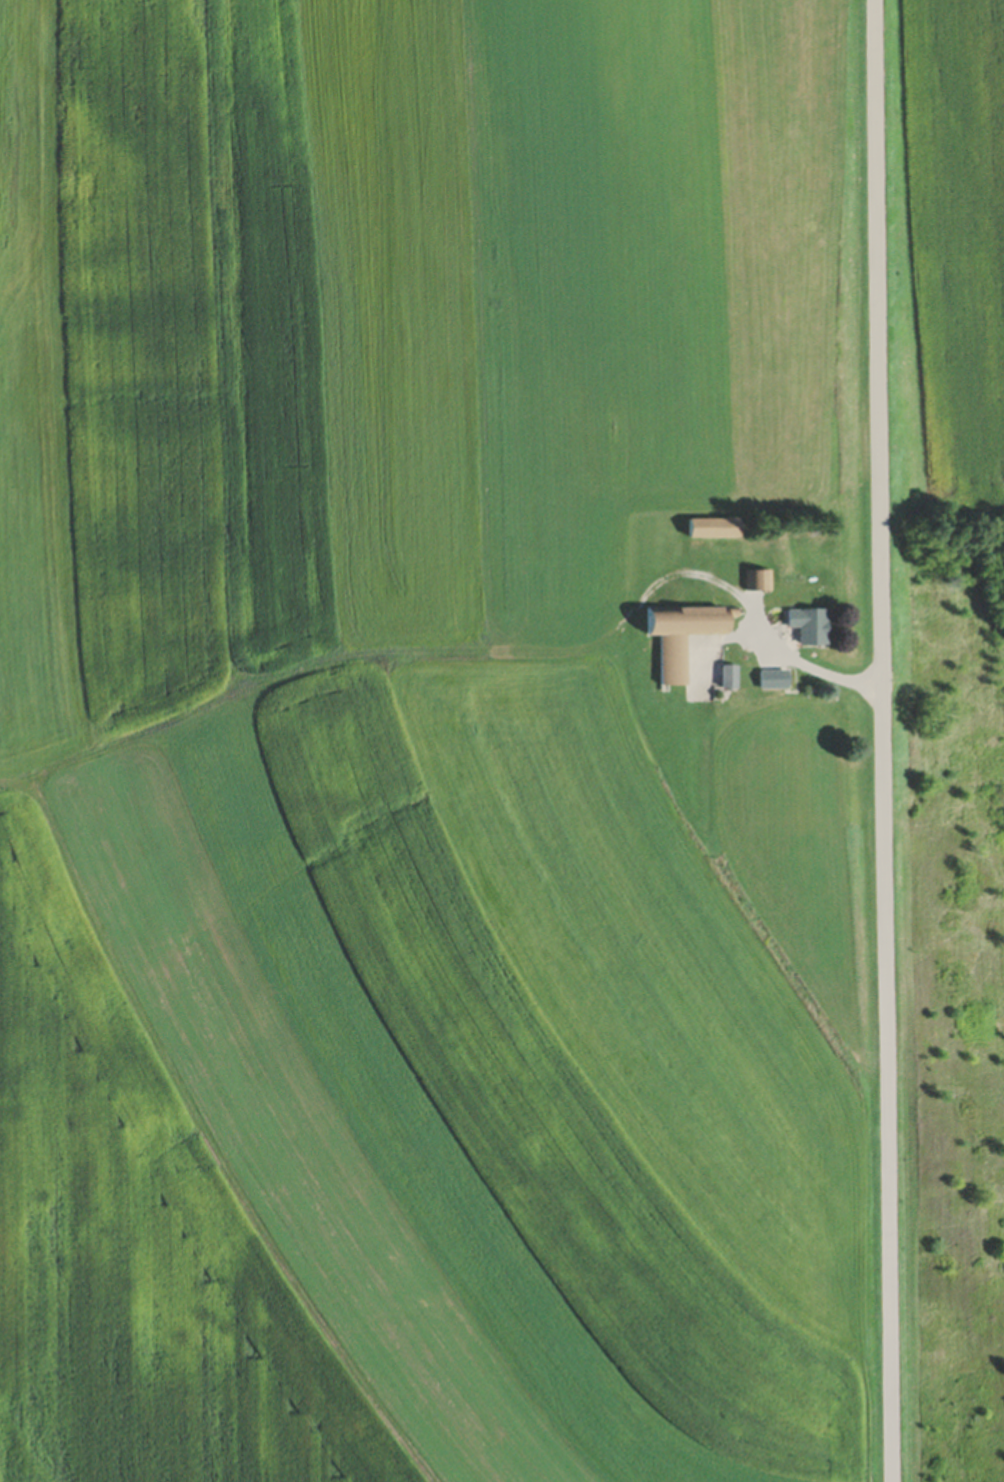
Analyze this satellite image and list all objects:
building: (706, 528)
building: (752, 581)
building: (799, 627)
building: (676, 638)
road: (815, 671)
building: (724, 678)
building: (767, 681)
road: (884, 741)

